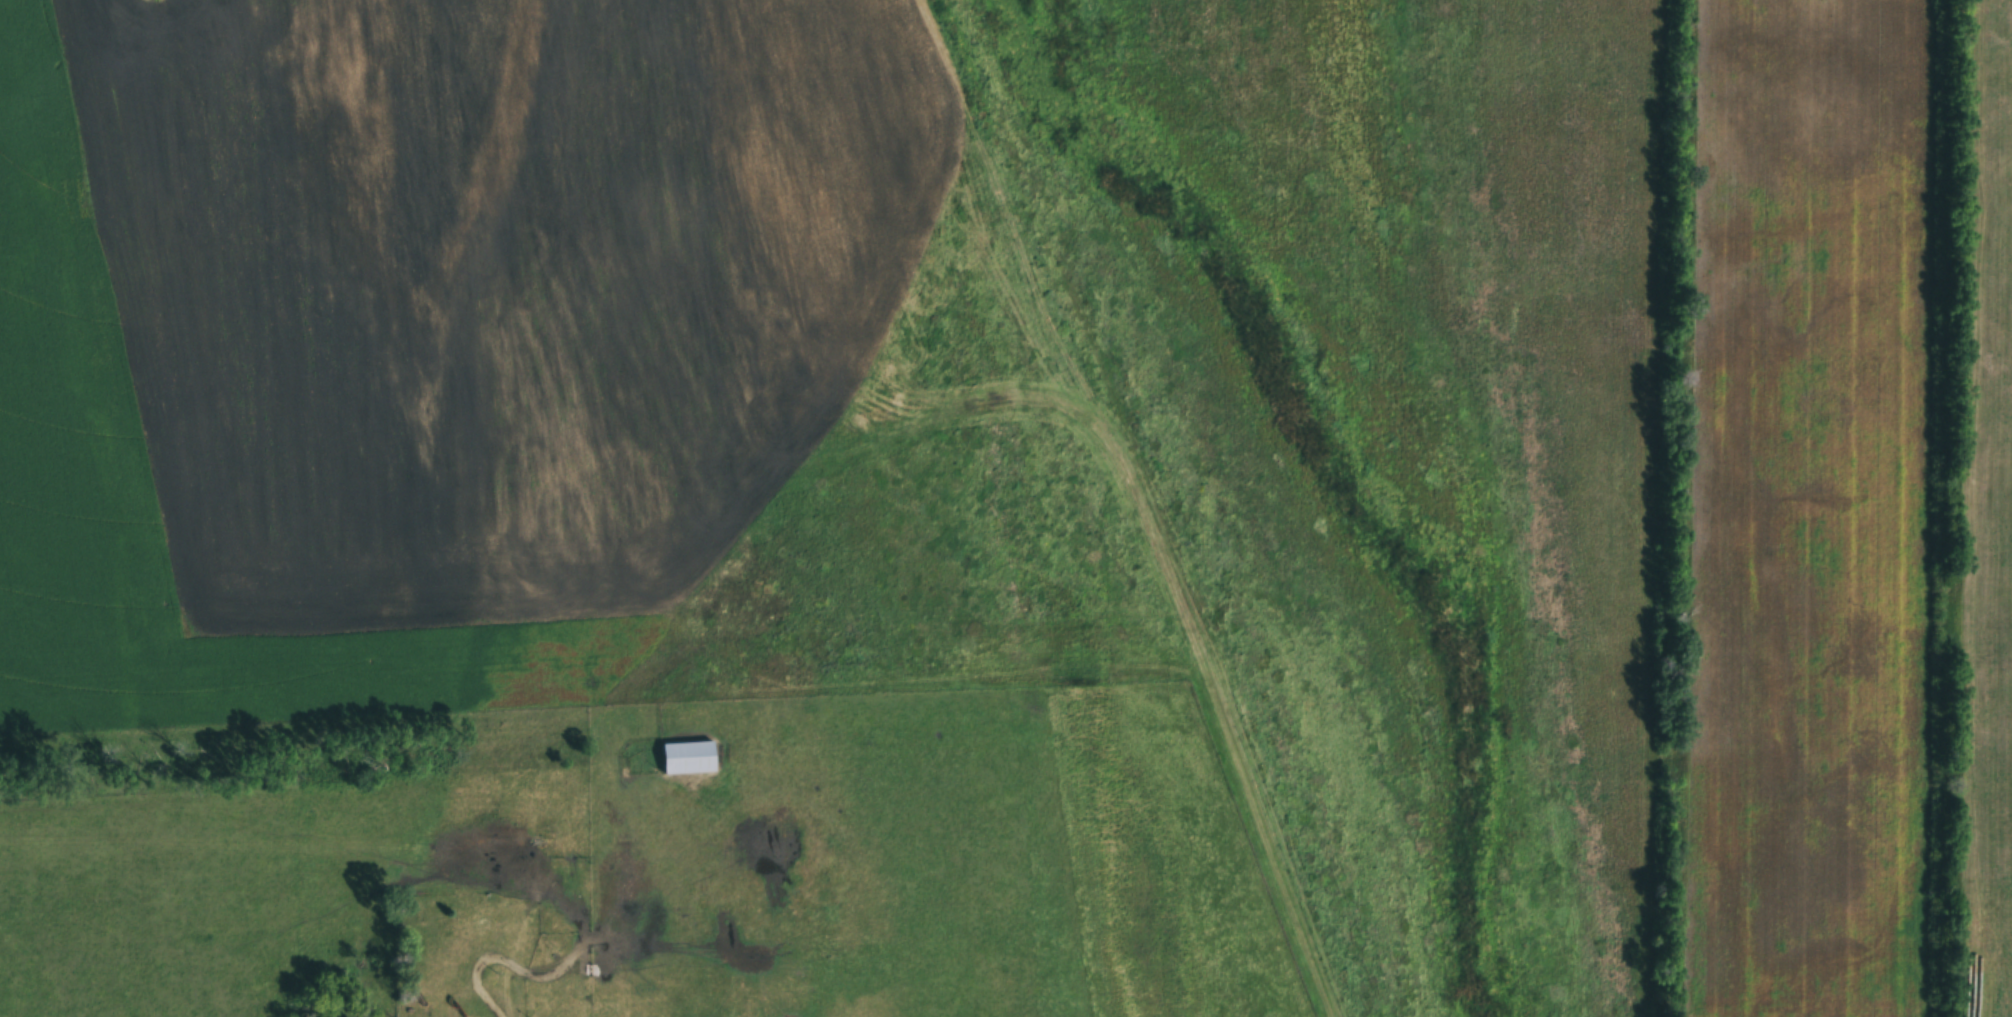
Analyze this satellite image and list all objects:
building: (686, 757)
building: (519, 876)
building: (604, 1012)

